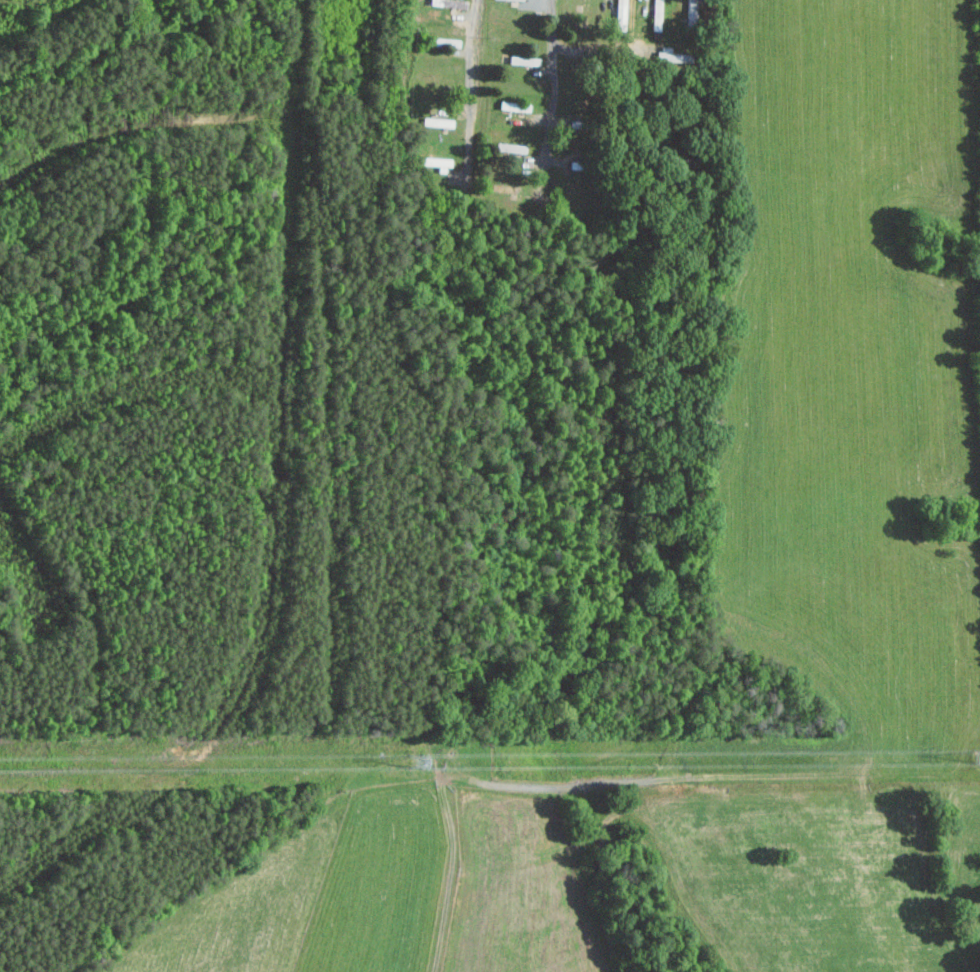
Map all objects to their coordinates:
building: (517, 0)
building: (619, 15)
building: (656, 15)
building: (669, 56)
road: (473, 97)
road: (551, 101)
building: (436, 163)
building: (509, 191)
power tower: (394, 762)

